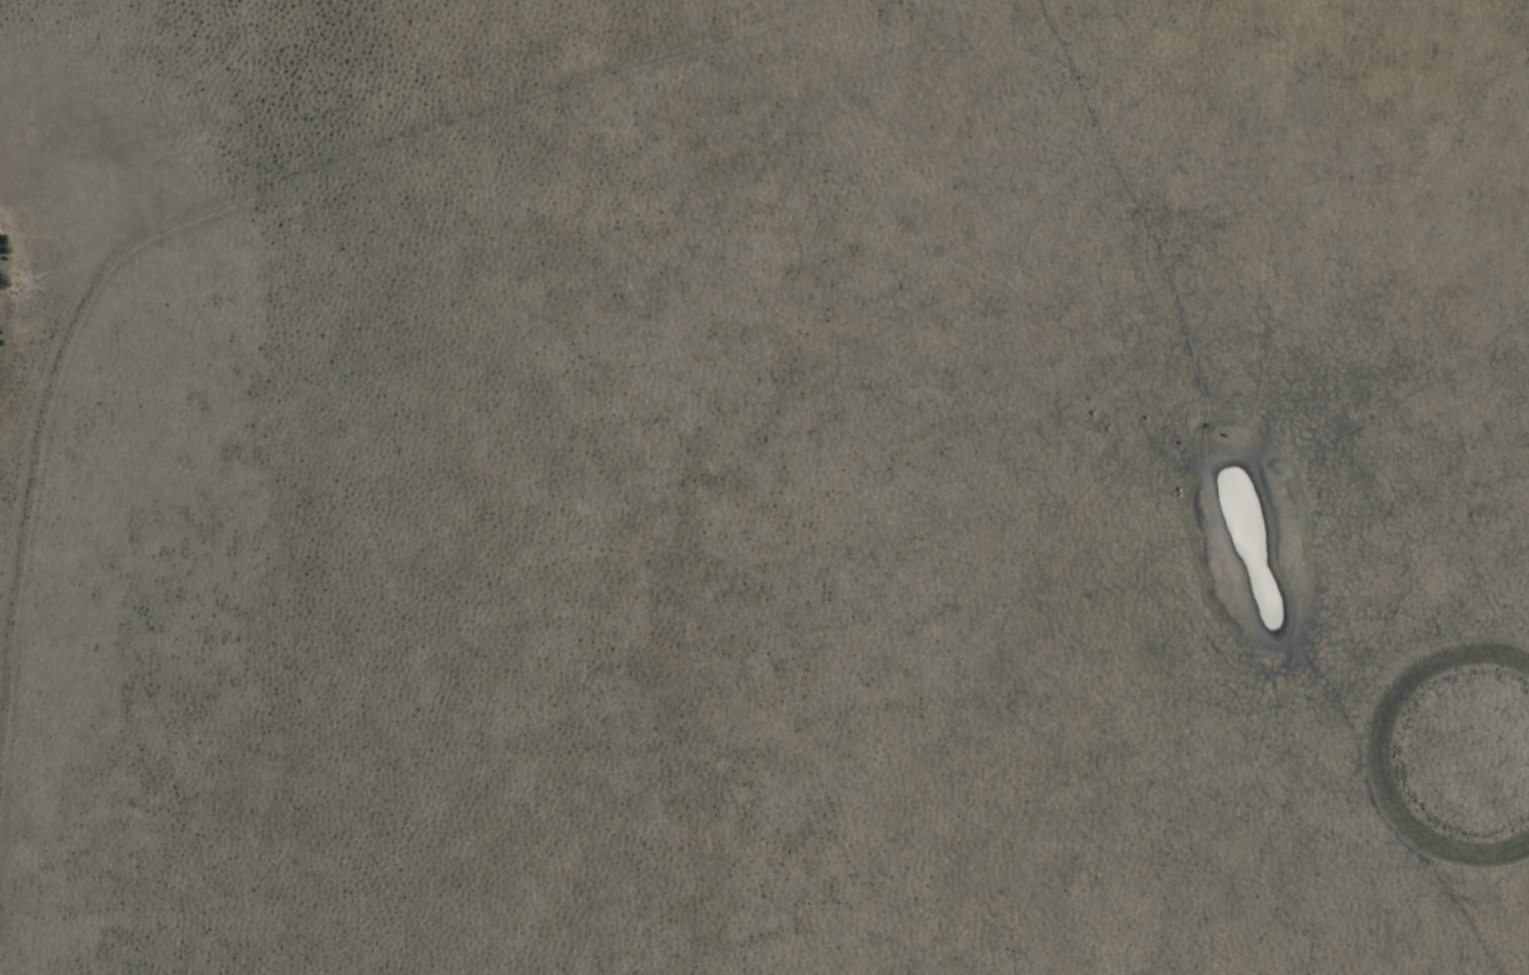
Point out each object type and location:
wastewater plant: (1249, 577)

